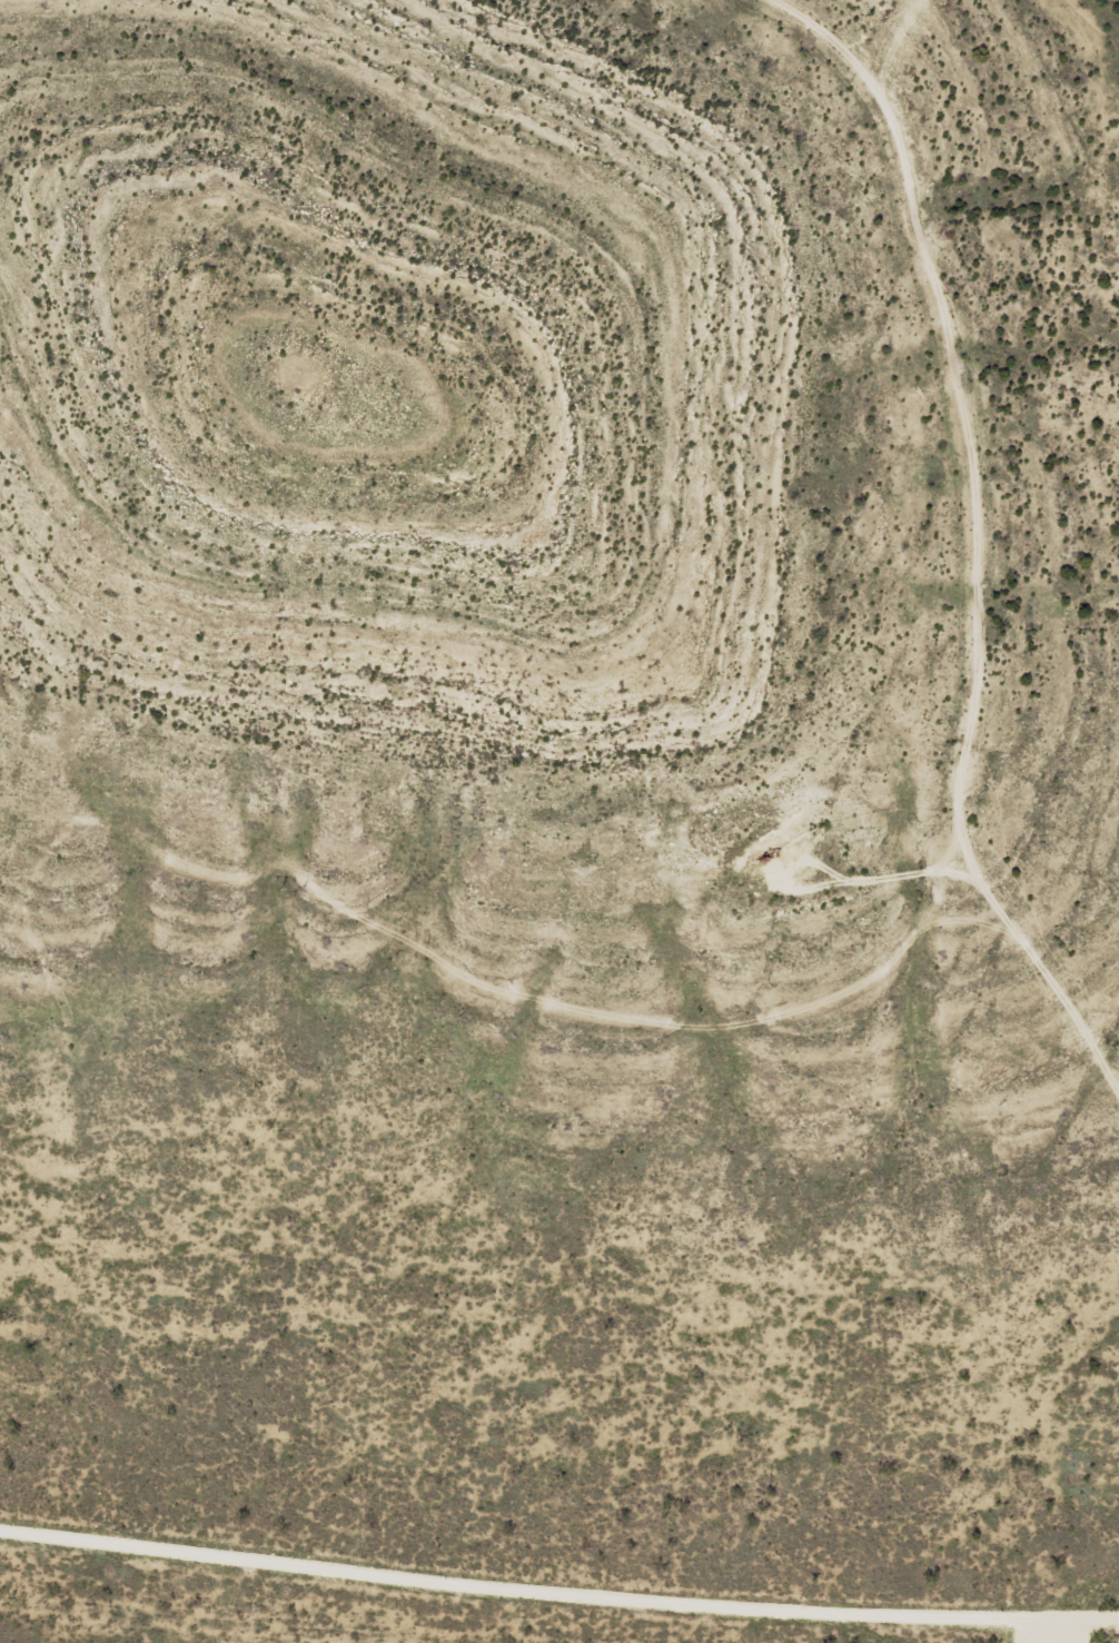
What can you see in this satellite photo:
road: (988, 494)
road: (558, 1572)

